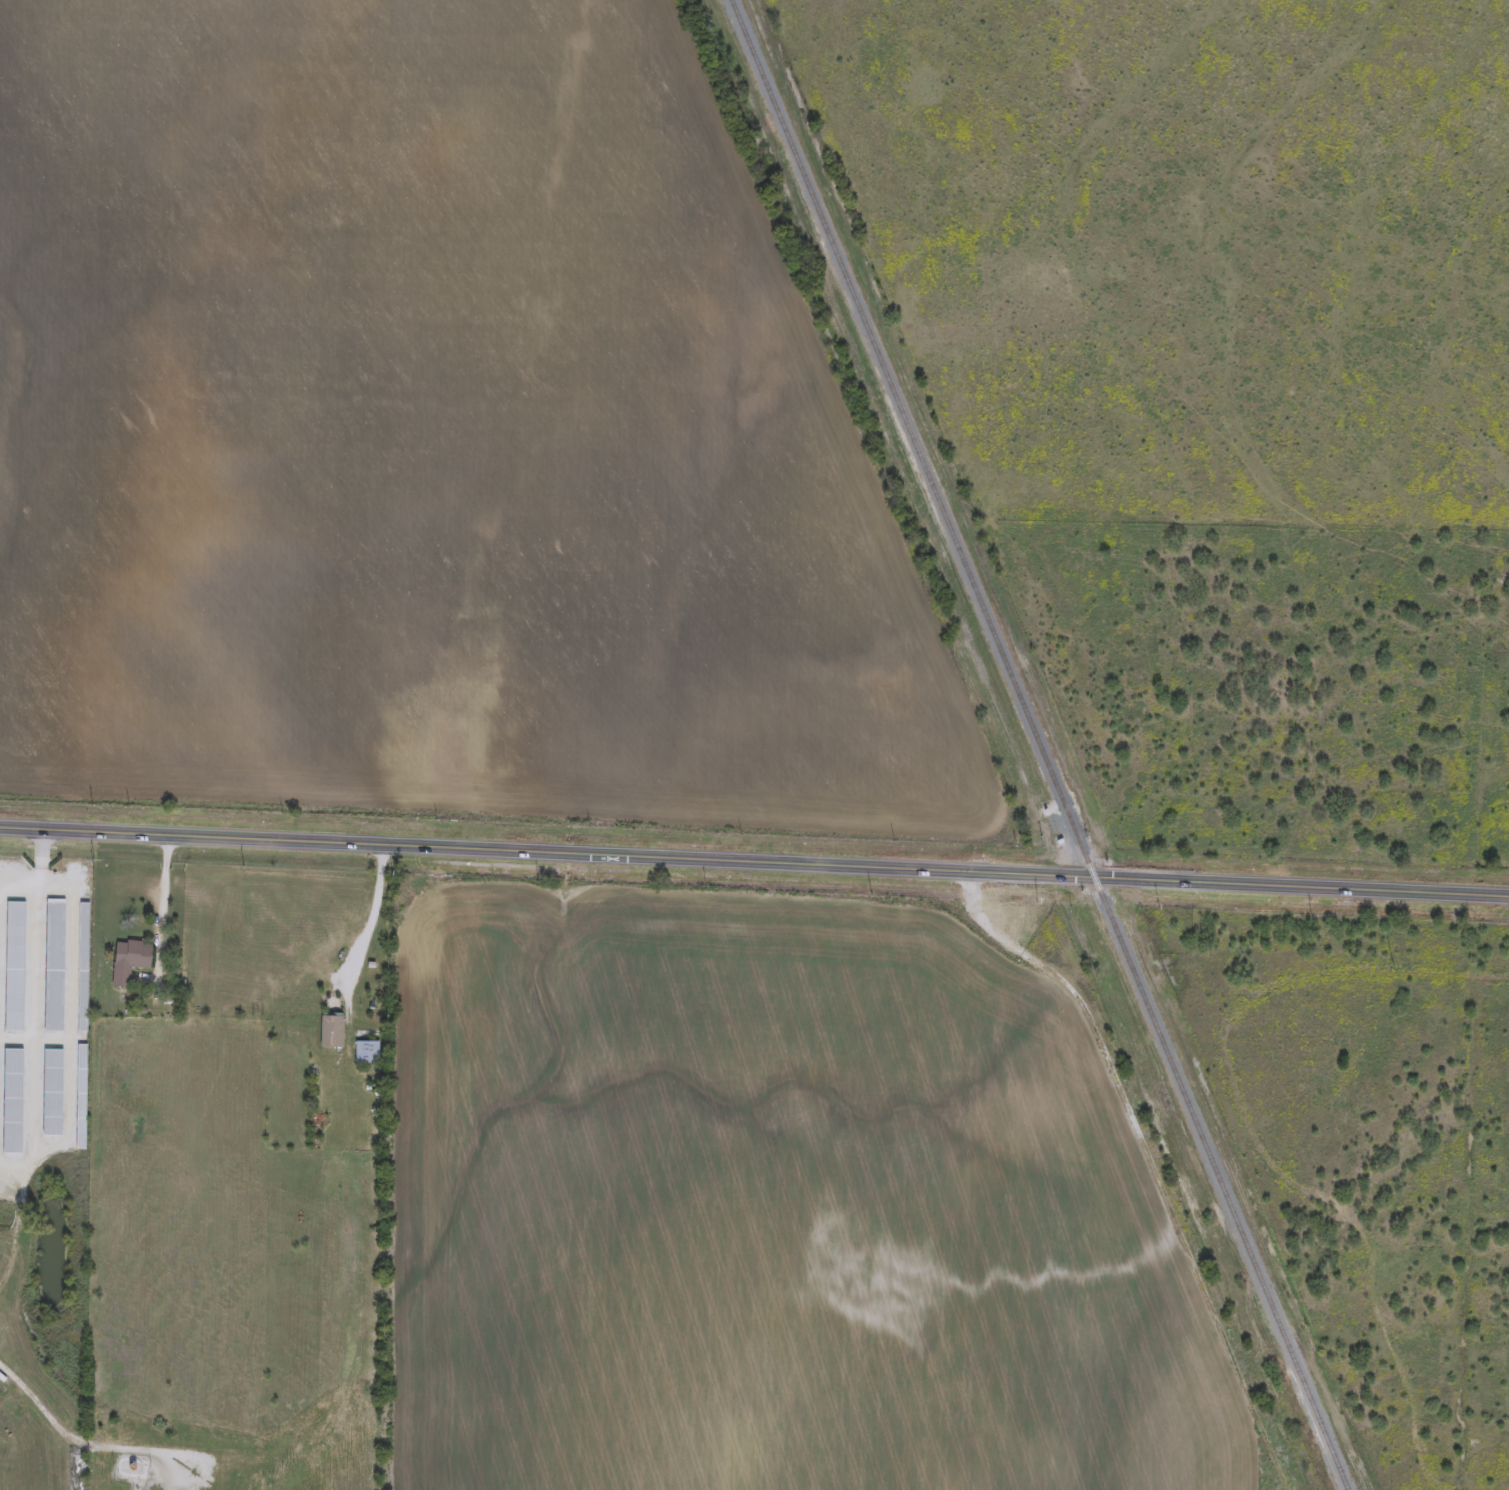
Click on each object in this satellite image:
railway: (1038, 744)
road: (47, 863)
road: (754, 863)
road: (20, 888)
road: (159, 917)
road: (365, 933)
building: (129, 962)
building: (55, 967)
building: (14, 968)
building: (83, 969)
building: (136, 1033)
building: (331, 1033)
road: (37, 1054)
building: (366, 1054)
building: (52, 1094)
building: (81, 1098)
building: (13, 1103)
road: (62, 1434)

